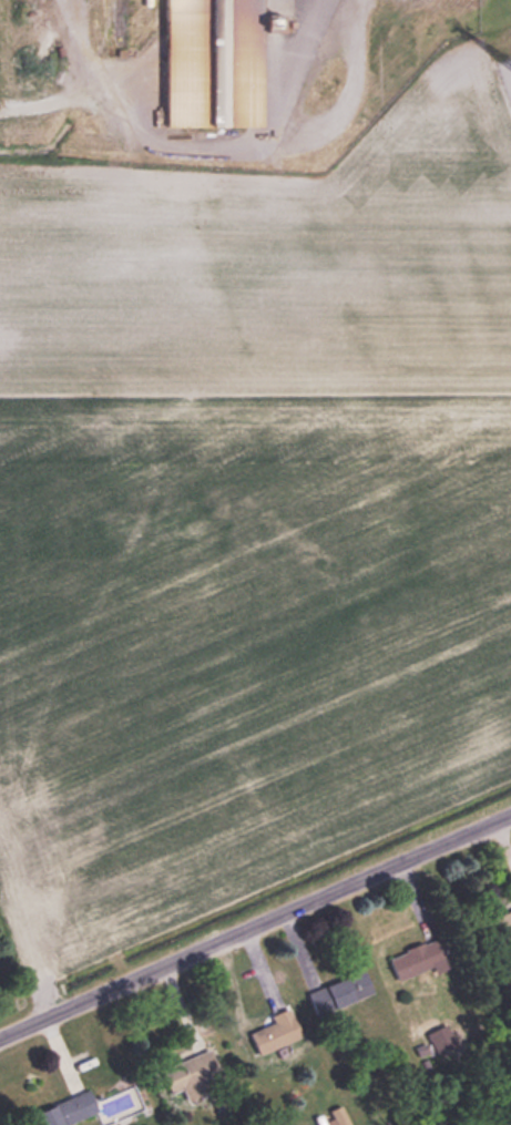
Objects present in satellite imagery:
railway: (117, 25)
building: (212, 62)
building: (502, 927)
road: (255, 928)
building: (416, 958)
building: (338, 992)
building: (274, 1032)
building: (192, 1075)
building: (64, 1109)

